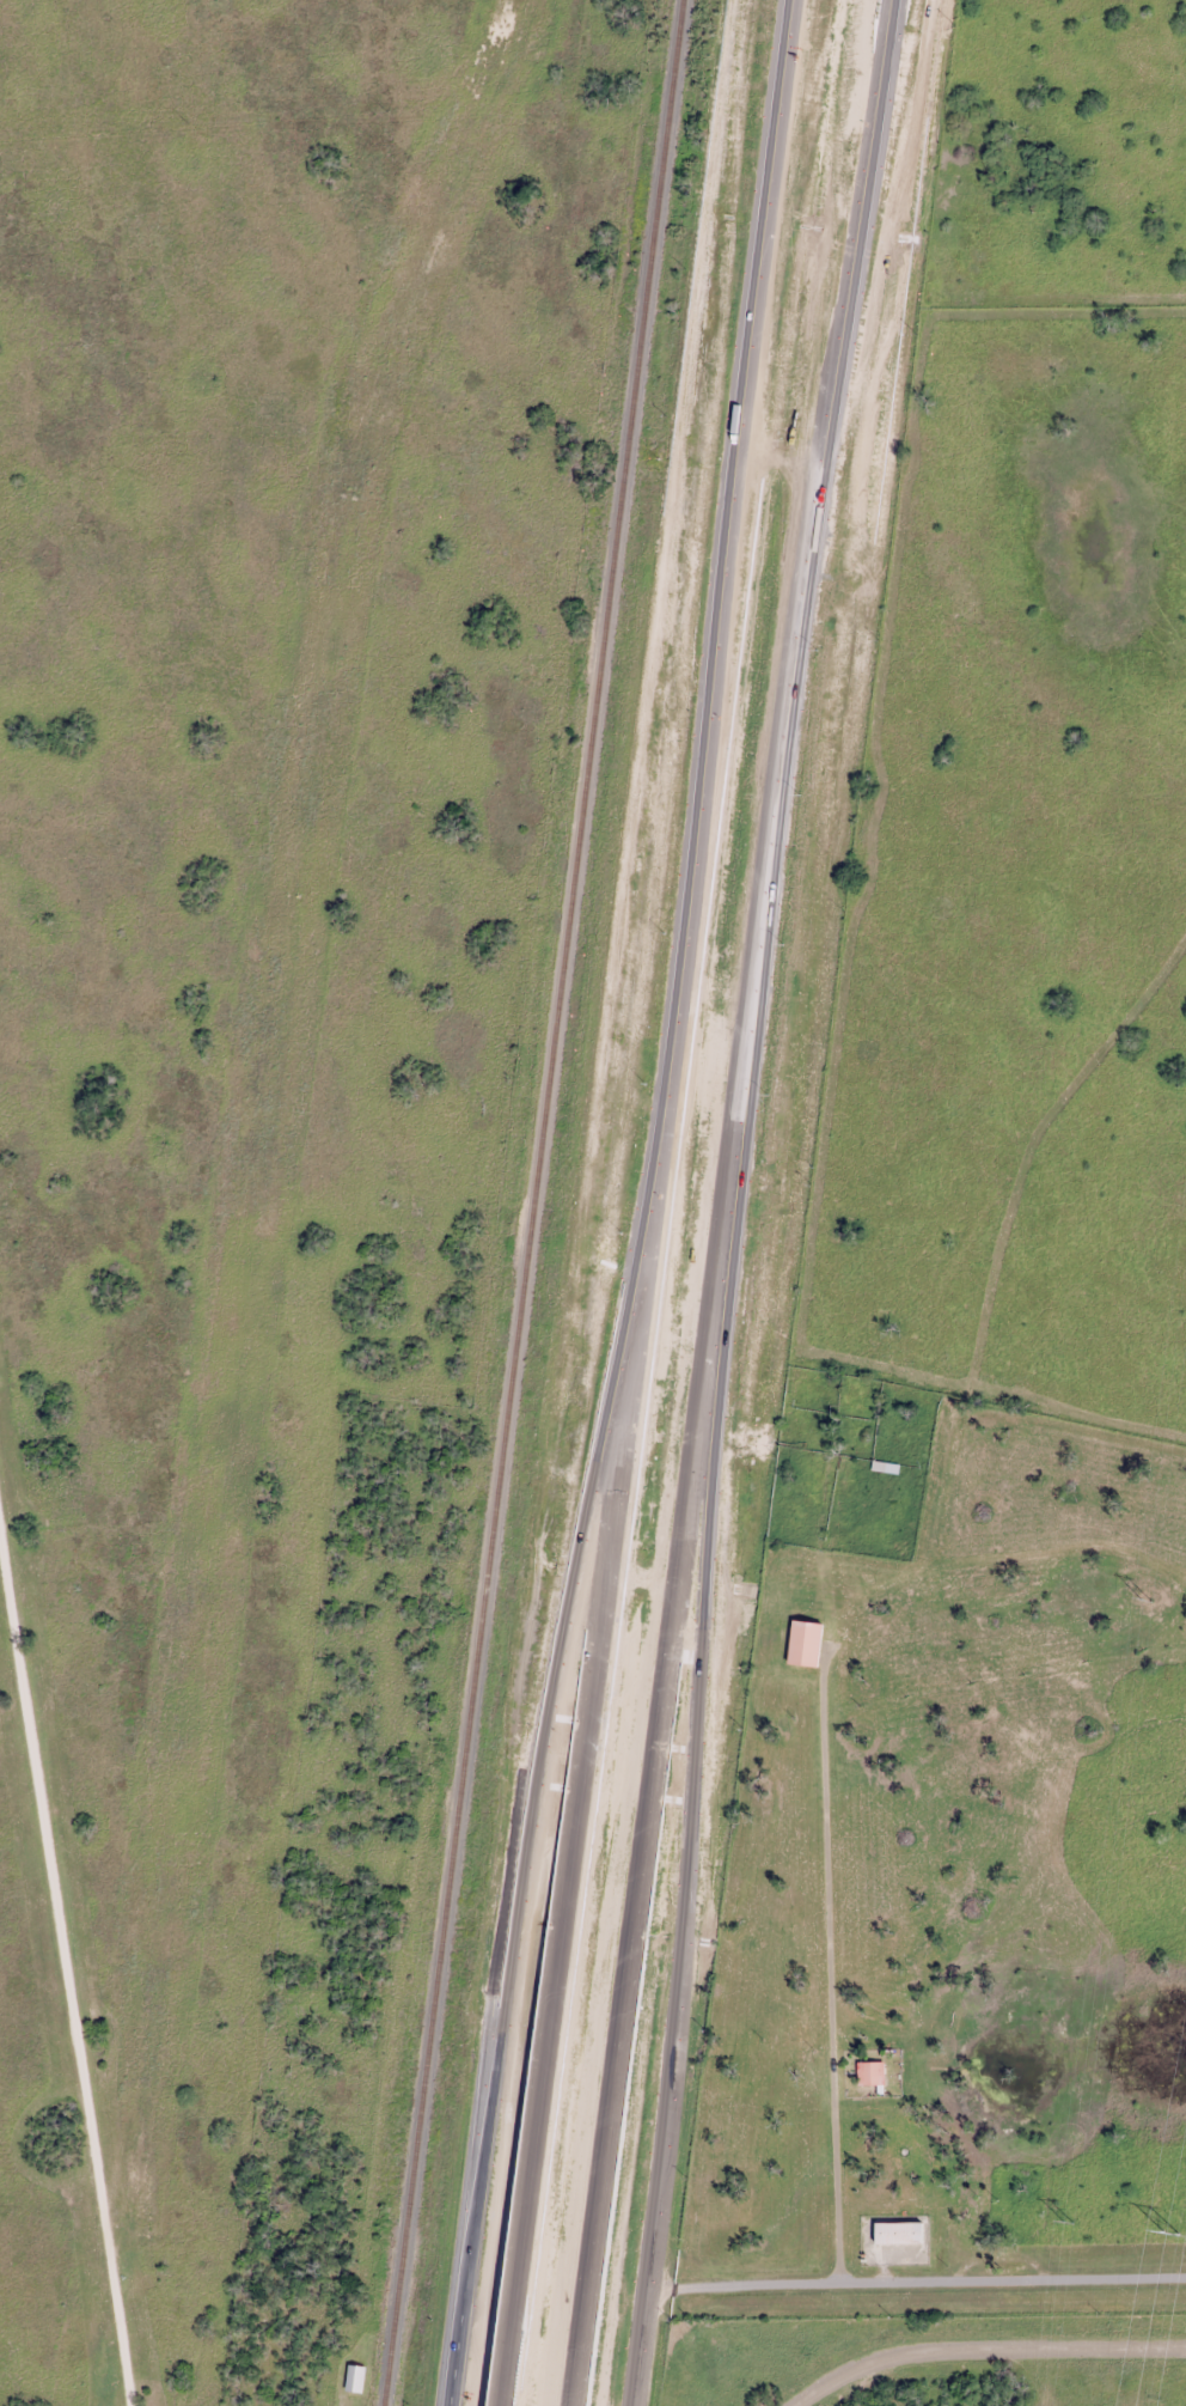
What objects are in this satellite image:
road: (729, 525)
road: (796, 641)
railway: (532, 1202)
building: (886, 1466)
road: (591, 1518)
power tower: (1147, 1600)
building: (806, 1641)
road: (586, 1729)
road: (686, 1787)
road: (644, 1845)
road: (71, 1904)
road: (830, 1996)
building: (872, 2071)
road: (482, 2194)
power tower: (1068, 2222)
building: (899, 2233)
power tower: (1168, 2236)
road: (915, 2283)
road: (636, 2347)
road: (985, 2350)
building: (355, 2376)

